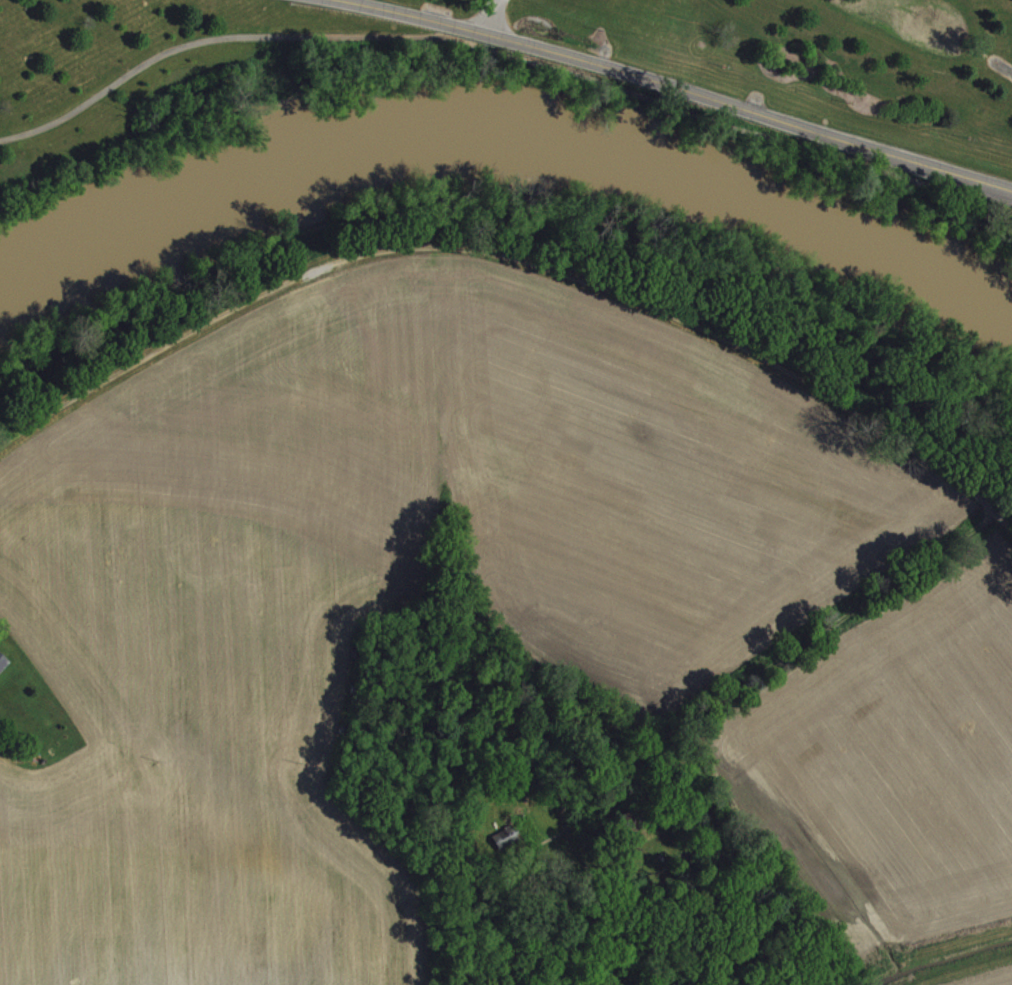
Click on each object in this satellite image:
road: (504, 55)
road: (673, 88)
park: (873, 92)
river: (509, 126)
road: (519, 262)
building: (3, 669)
building: (500, 849)

